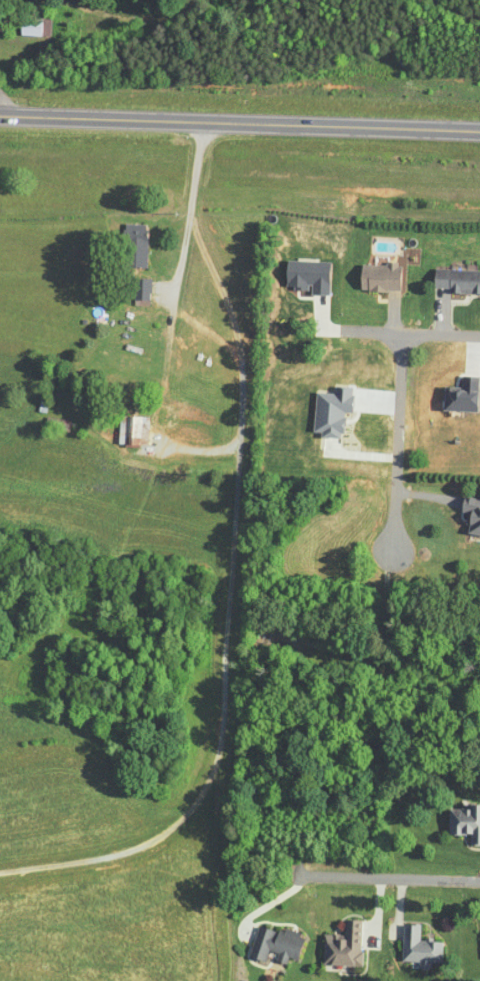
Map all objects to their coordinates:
building: (33, 23)
road: (240, 122)
road: (189, 209)
building: (132, 246)
building: (377, 278)
building: (455, 281)
building: (141, 293)
road: (409, 335)
road: (235, 359)
building: (55, 426)
building: (132, 432)
road: (392, 444)
building: (470, 516)
building: (463, 824)
road: (389, 879)
building: (278, 945)
building: (343, 946)
building: (419, 949)

